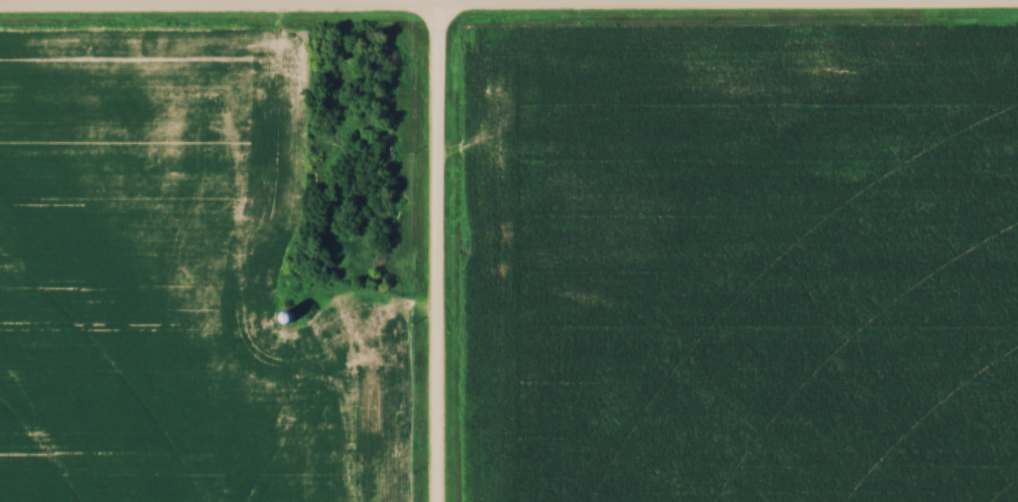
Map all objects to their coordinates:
road: (508, 8)
road: (438, 250)

